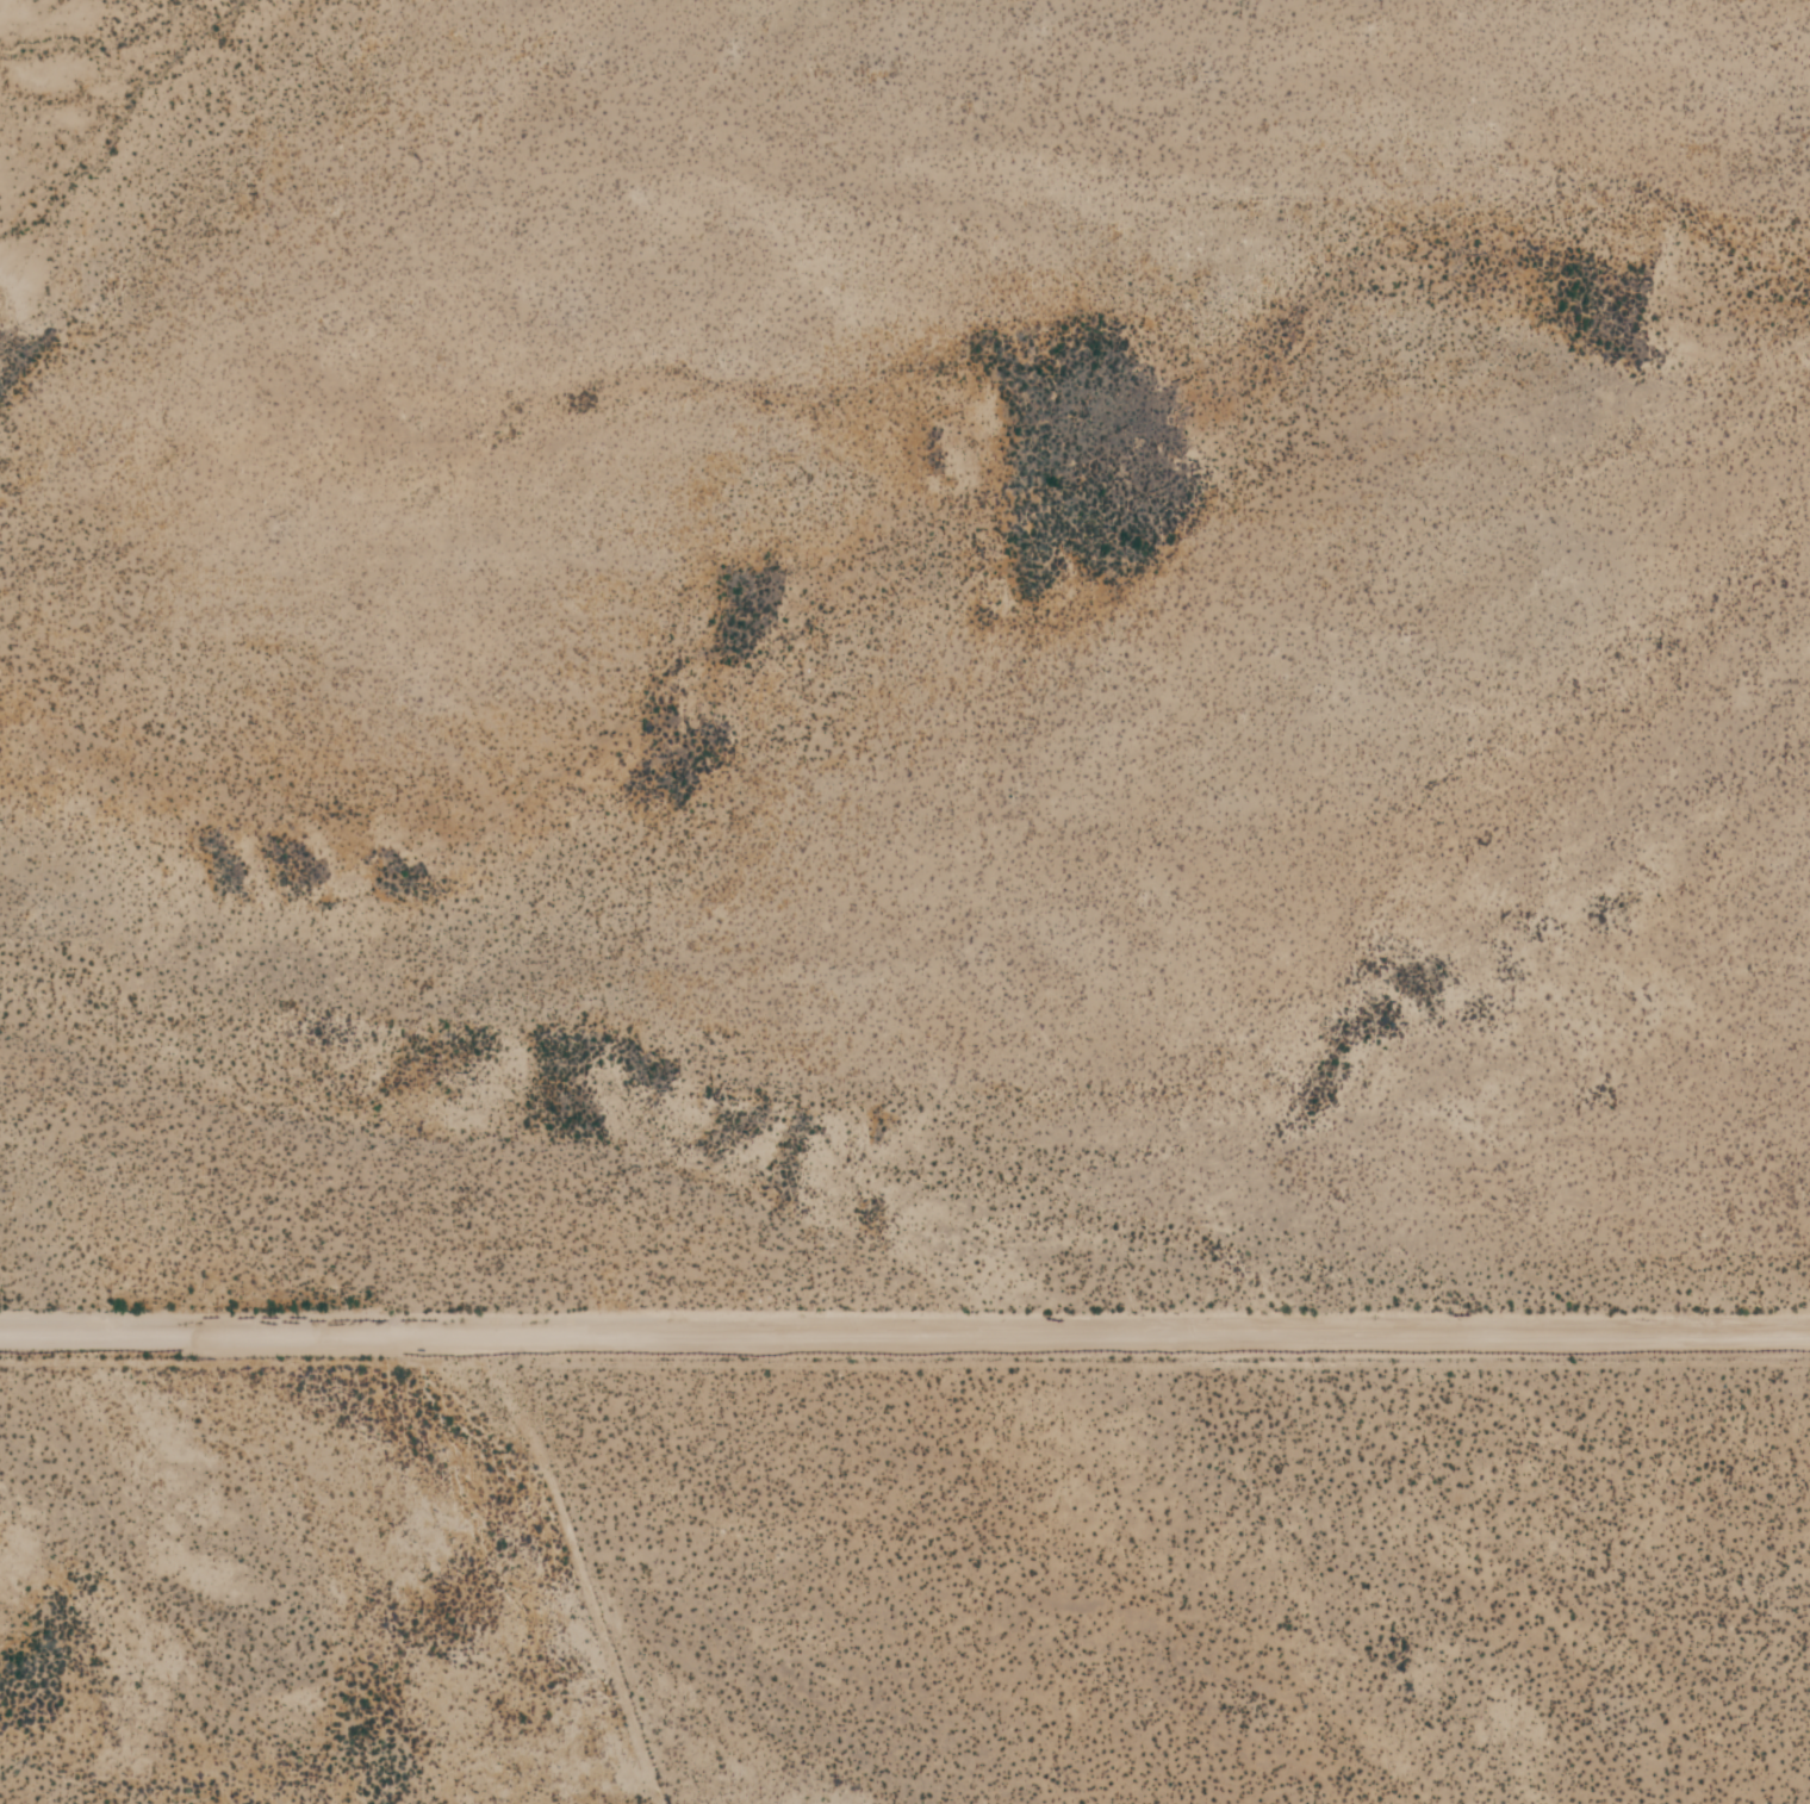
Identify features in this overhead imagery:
road: (904, 1330)

